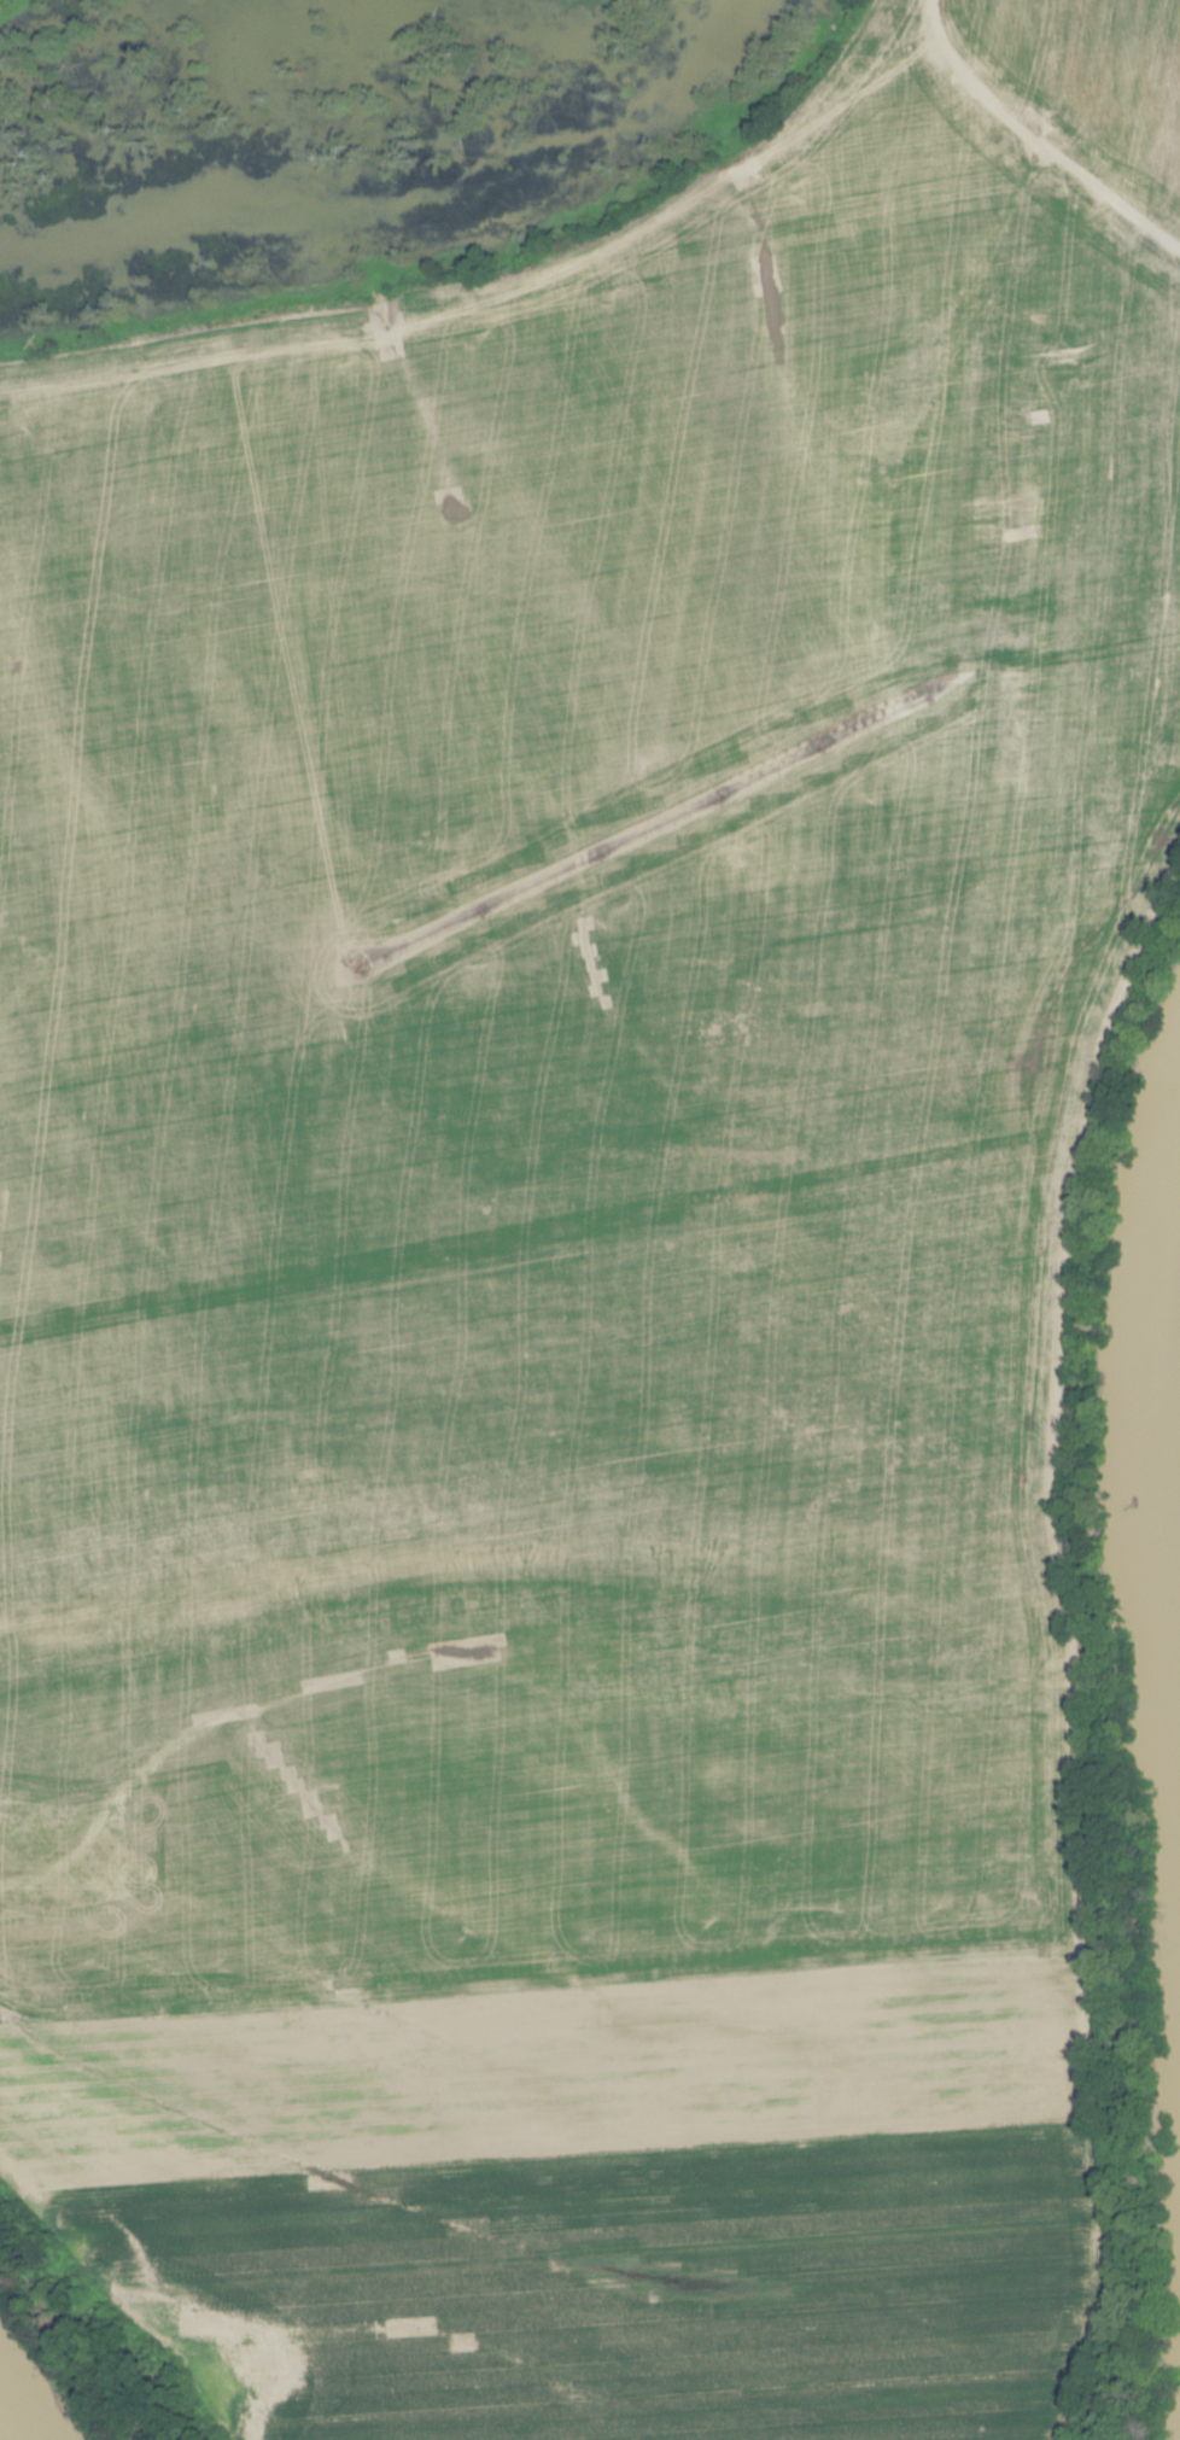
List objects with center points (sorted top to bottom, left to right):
road: (1032, 139)
road: (492, 296)
river: (1173, 1484)
road: (857, 1508)

